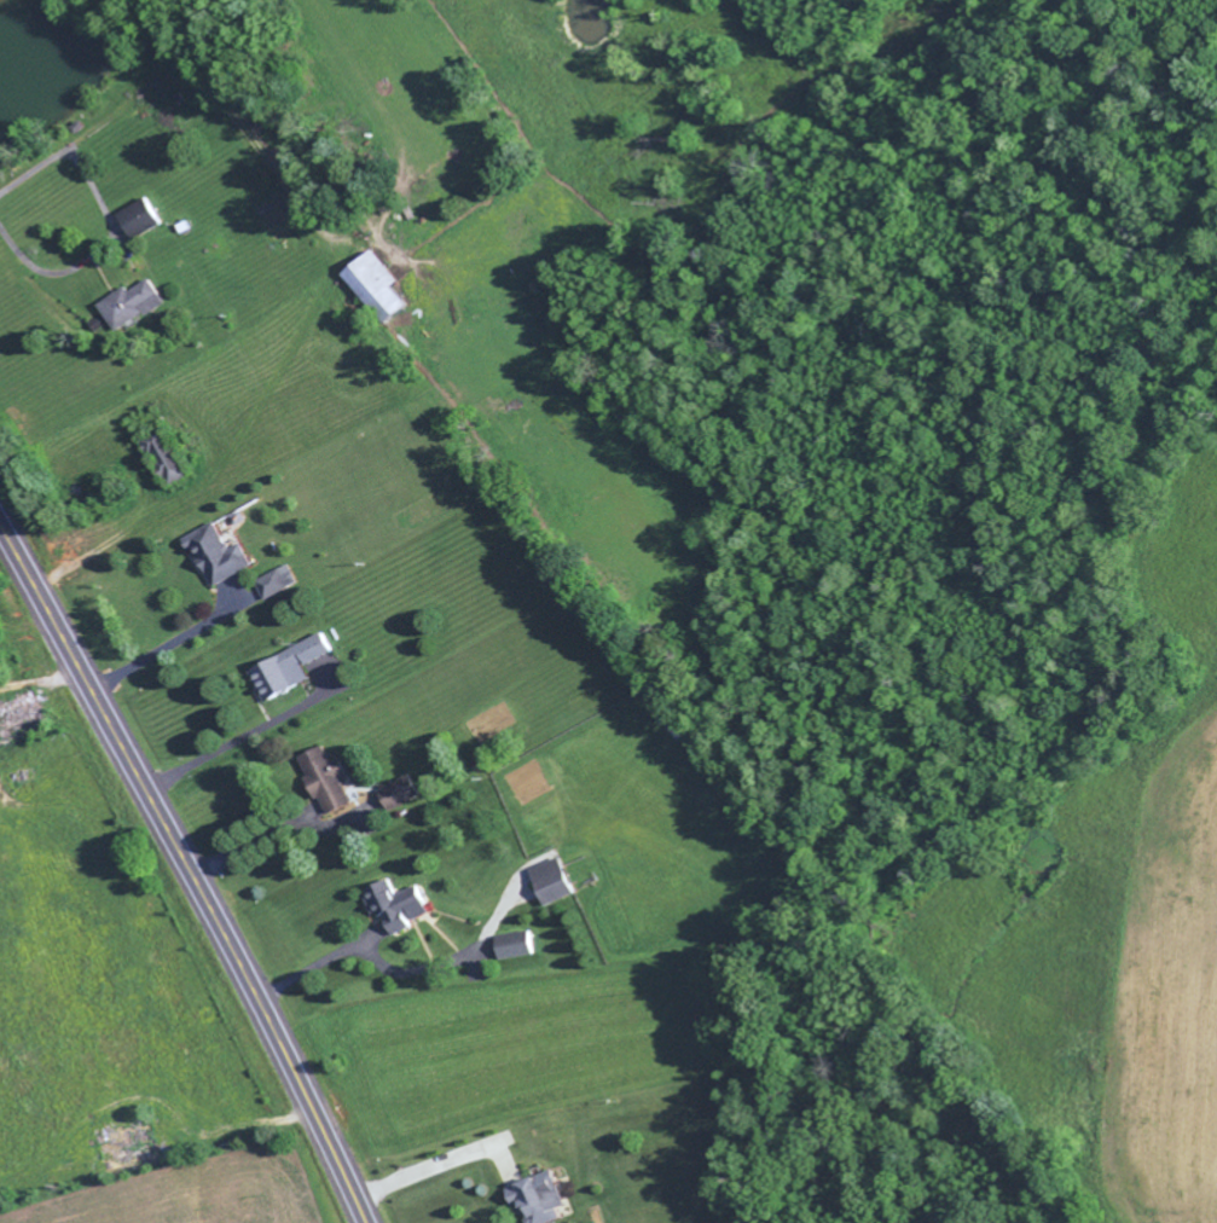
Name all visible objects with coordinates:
building: (145, 218)
building: (389, 288)
building: (138, 305)
building: (175, 456)
building: (228, 553)
building: (284, 581)
road: (167, 648)
building: (296, 667)
road: (41, 683)
building: (27, 714)
road: (230, 747)
building: (439, 772)
building: (334, 778)
road: (0, 792)
building: (407, 792)
road: (253, 847)
road: (190, 870)
building: (560, 880)
building: (405, 905)
building: (522, 944)
road: (453, 960)
road: (319, 966)
building: (141, 1146)
road: (442, 1163)
building: (551, 1198)

